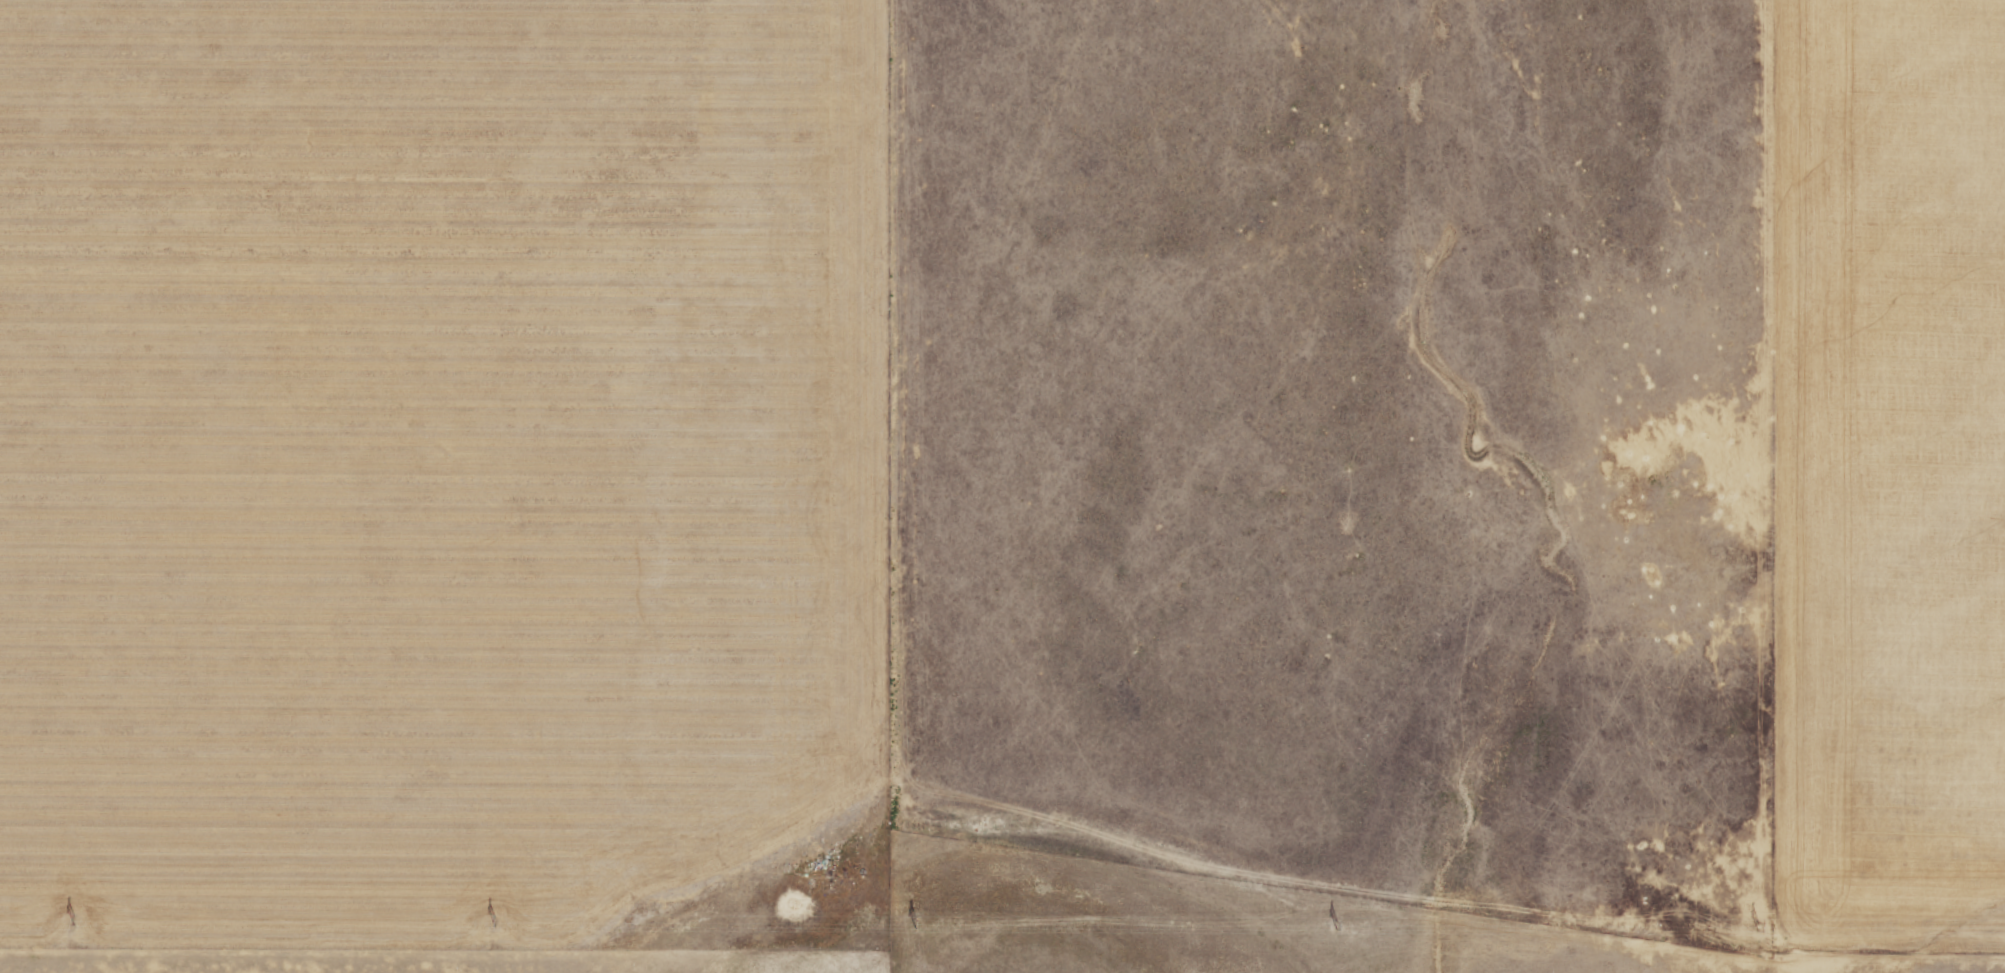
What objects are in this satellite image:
power tower: (72, 921)
power tower: (494, 923)
power tower: (915, 925)
power tower: (1335, 926)
power tower: (1758, 928)

